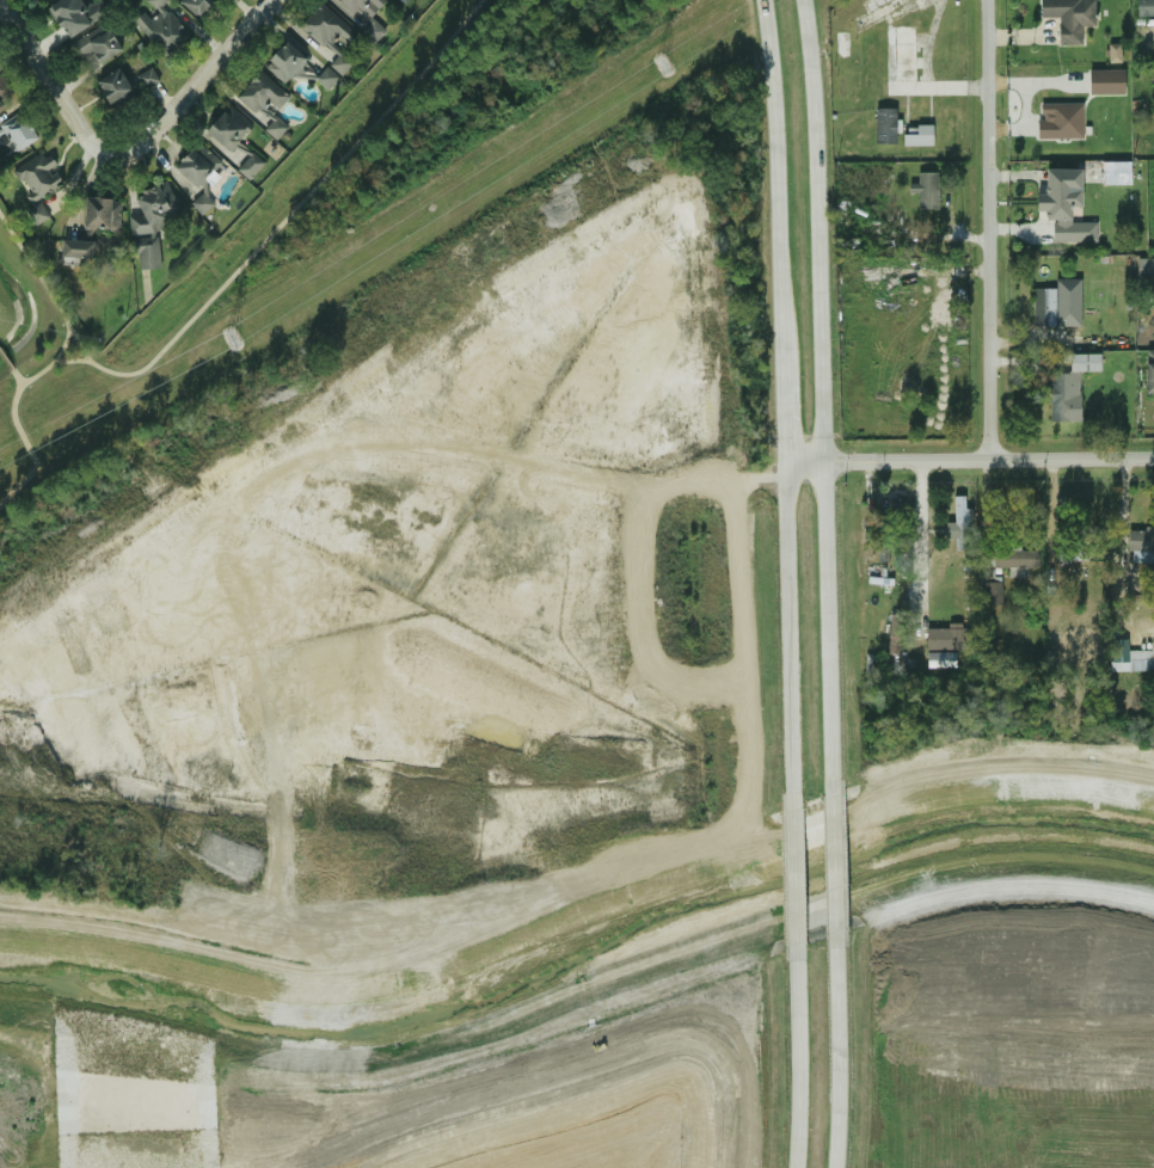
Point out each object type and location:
building: (38, 0)
building: (401, 1)
building: (198, 6)
building: (1144, 7)
building: (74, 14)
building: (362, 16)
building: (1068, 18)
building: (160, 27)
building: (326, 41)
building: (843, 44)
building: (1146, 45)
building: (94, 47)
building: (1113, 54)
building: (901, 60)
building: (284, 63)
power tower: (661, 64)
road: (56, 78)
building: (146, 78)
building: (1105, 81)
road: (197, 86)
building: (112, 87)
building: (2, 90)
building: (264, 102)
building: (0, 105)
building: (1060, 119)
building: (884, 125)
building: (19, 134)
building: (233, 139)
building: (916, 139)
road: (774, 162)
building: (196, 165)
building: (1115, 172)
building: (37, 176)
building: (926, 190)
building: (1061, 214)
building: (37, 215)
building: (100, 215)
building: (149, 223)
road: (984, 230)
building: (75, 250)
building: (1152, 266)
building: (1049, 306)
power tower: (231, 339)
road: (782, 355)
building: (1149, 376)
building: (1067, 386)
road: (820, 398)
road: (784, 423)
road: (969, 461)
building: (959, 522)
road: (1119, 522)
road: (921, 535)
building: (1141, 546)
building: (880, 552)
building: (1079, 554)
building: (1014, 559)
road: (1048, 559)
building: (989, 592)
building: (1076, 622)
road: (787, 635)
building: (946, 639)
building: (1118, 650)
building: (939, 659)
road: (831, 863)
road: (792, 875)
river: (581, 957)
road: (835, 1050)
road: (798, 1056)

